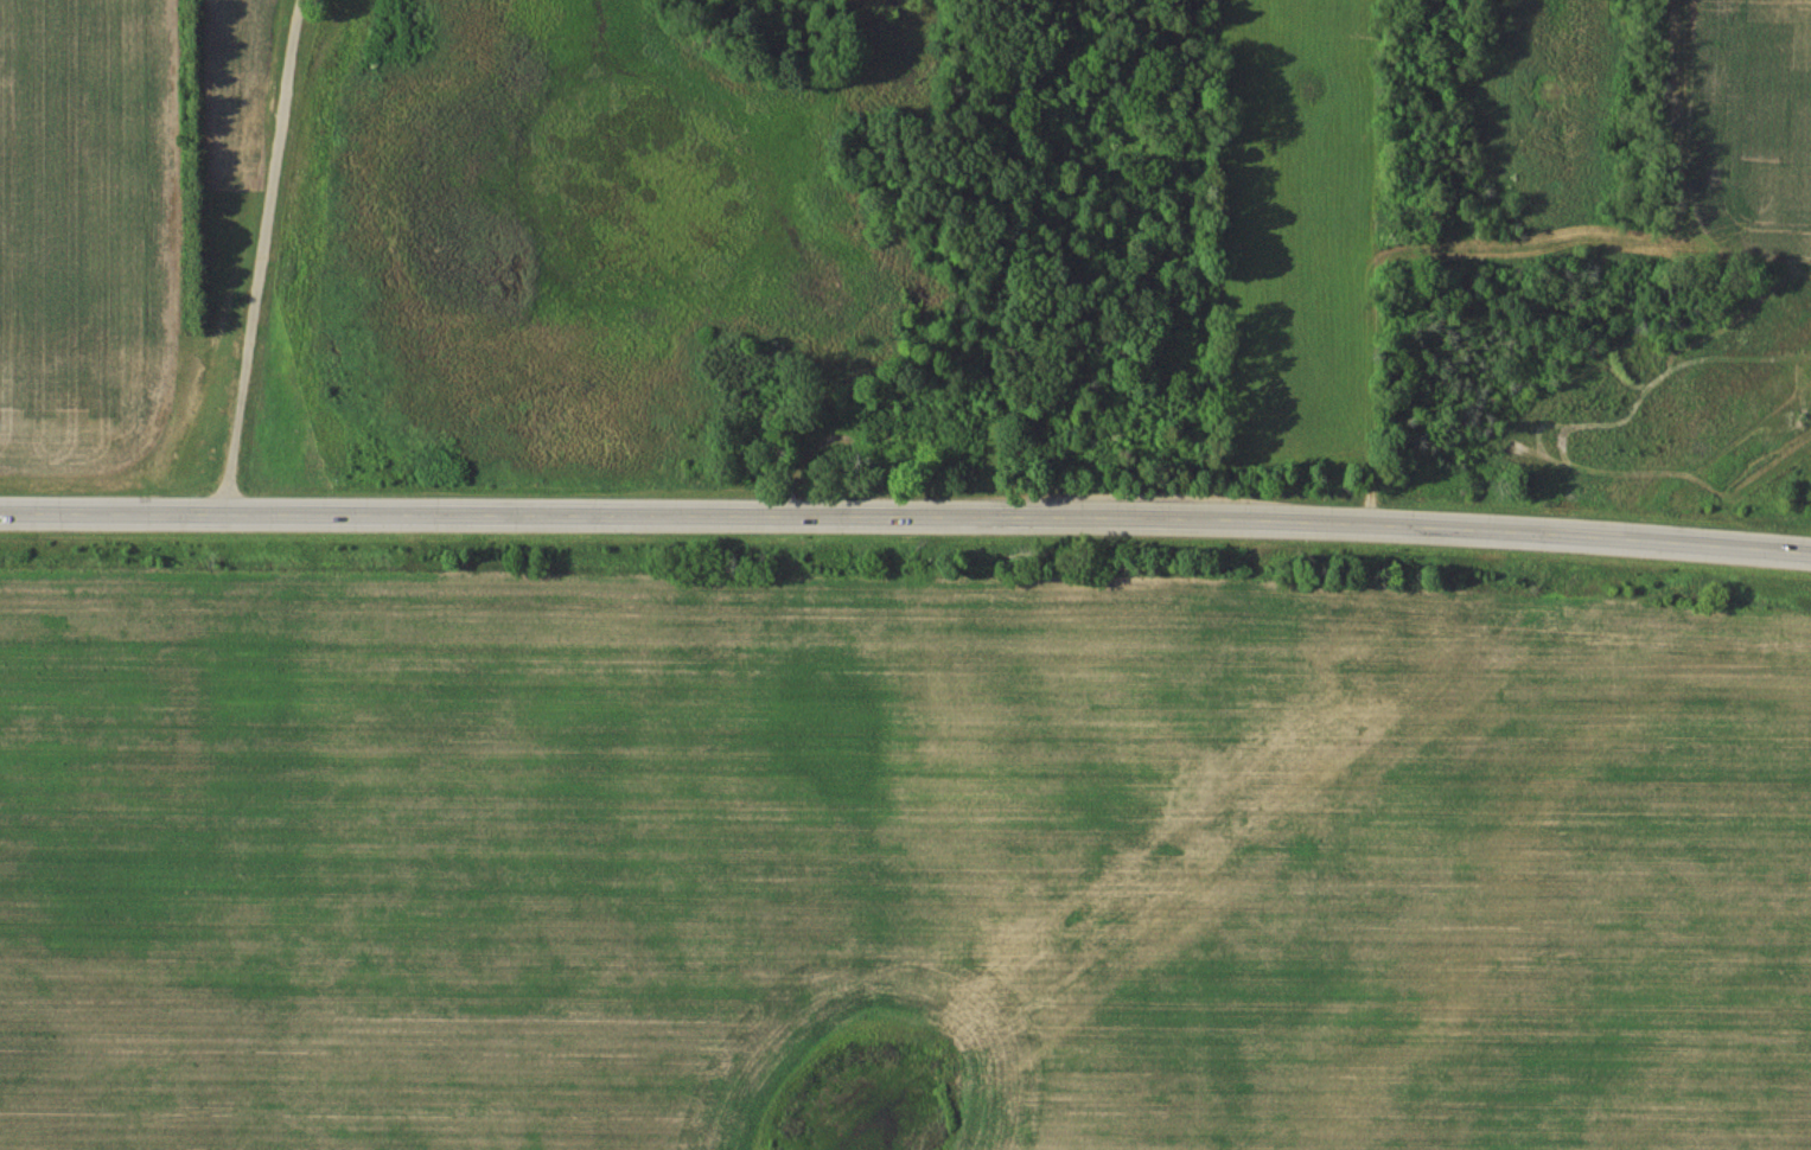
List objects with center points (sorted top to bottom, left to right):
road: (1749, 95)
road: (1665, 251)
road: (241, 258)
road: (618, 513)
road: (1524, 529)

